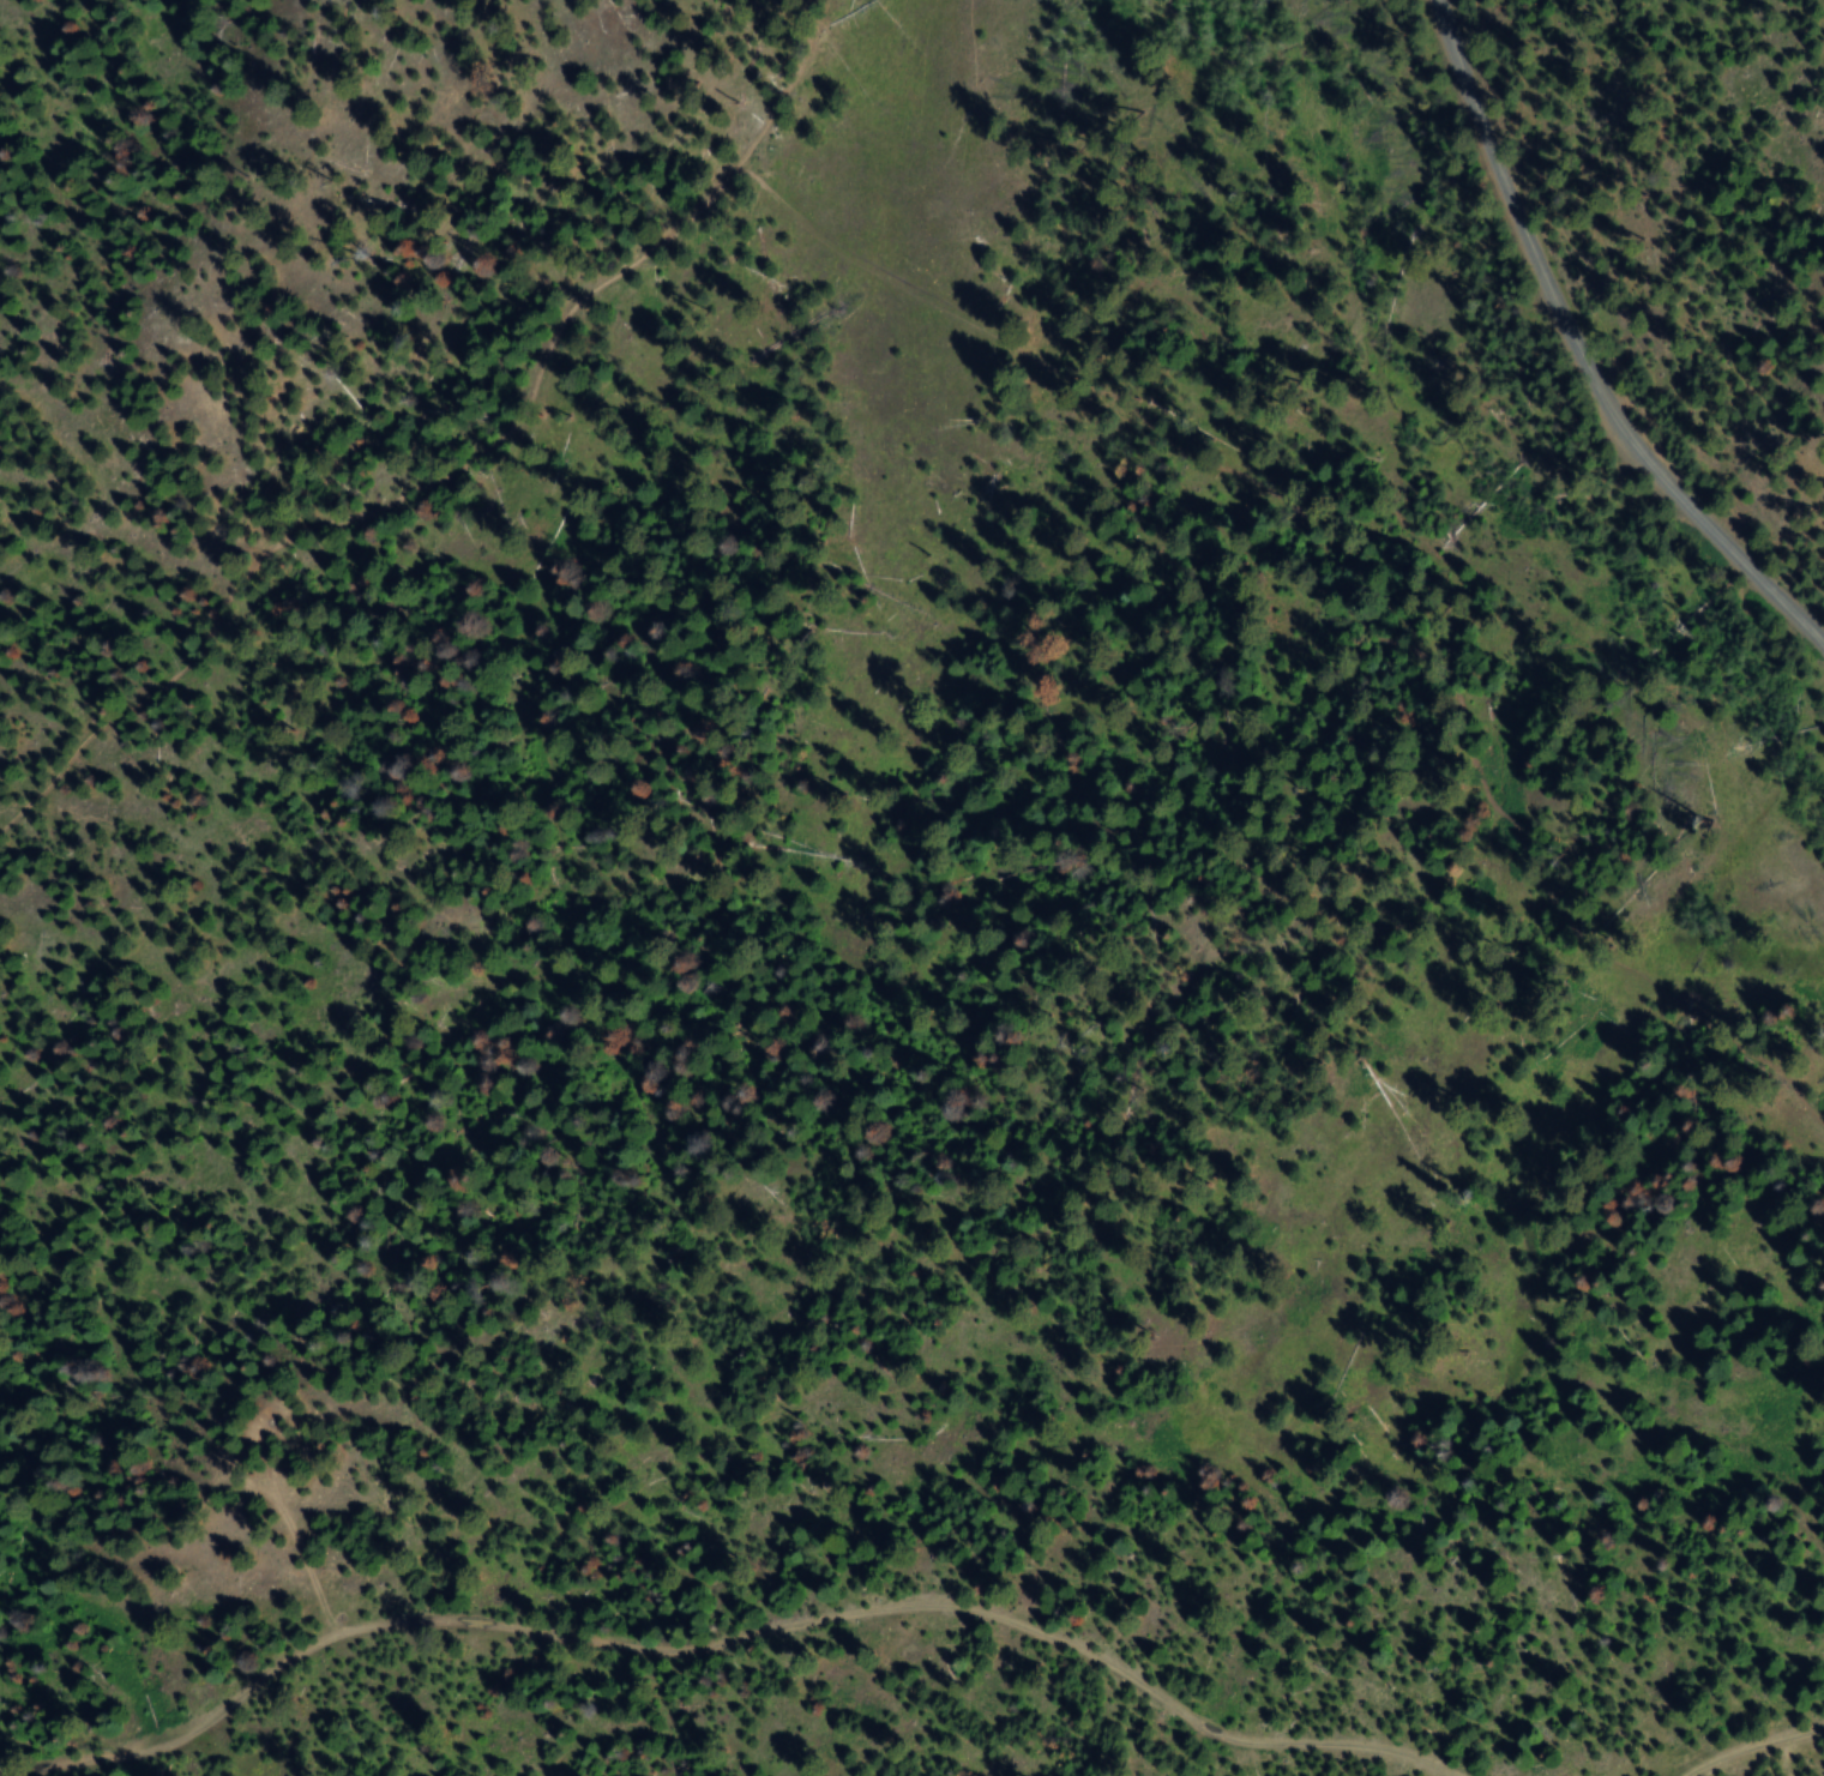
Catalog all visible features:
road: (1591, 339)
road: (288, 553)
road: (278, 1515)
road: (726, 1643)
road: (1760, 1747)

